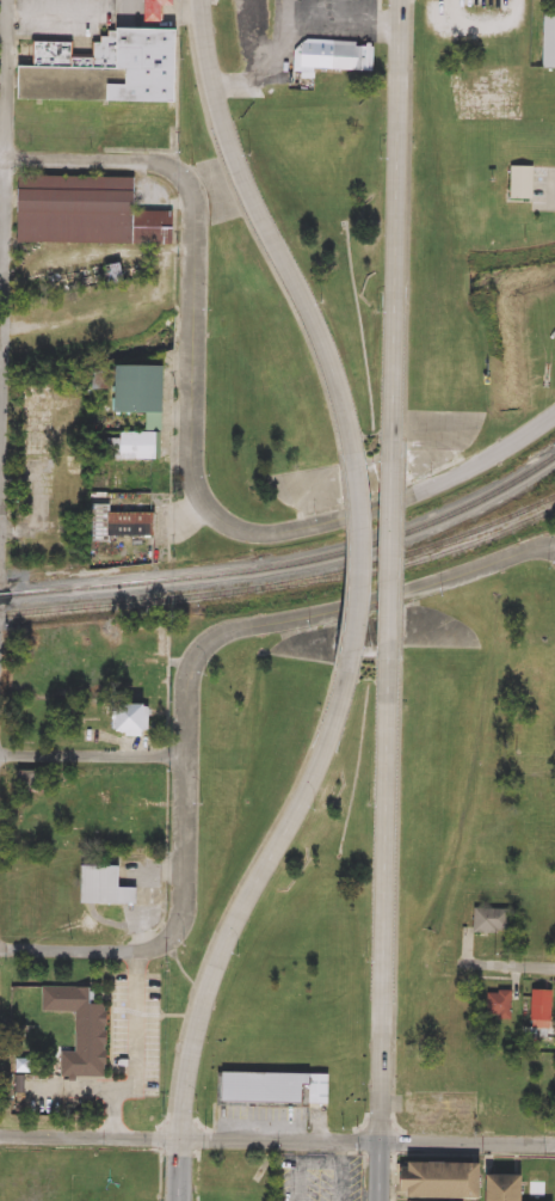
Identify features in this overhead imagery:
building: (160, 10)
road: (482, 20)
road: (298, 22)
building: (547, 42)
building: (337, 57)
road: (258, 62)
building: (111, 71)
building: (142, 130)
road: (76, 161)
building: (518, 184)
road: (550, 186)
road: (395, 208)
building: (93, 213)
road: (4, 226)
road: (264, 231)
railway: (277, 299)
building: (146, 411)
road: (518, 437)
building: (42, 440)
road: (196, 474)
building: (125, 523)
road: (384, 534)
railway: (495, 539)
road: (351, 562)
railway: (288, 565)
railway: (284, 584)
road: (223, 632)
building: (136, 718)
road: (92, 760)
building: (110, 887)
building: (488, 921)
road: (232, 924)
road: (381, 926)
road: (75, 951)
road: (507, 972)
building: (499, 1006)
building: (539, 1016)
building: (86, 1030)
parking lot: (138, 1030)
road: (138, 1049)
building: (257, 1089)
building: (316, 1090)
road: (277, 1142)
parking lot: (321, 1178)
building: (434, 1182)
building: (495, 1188)

